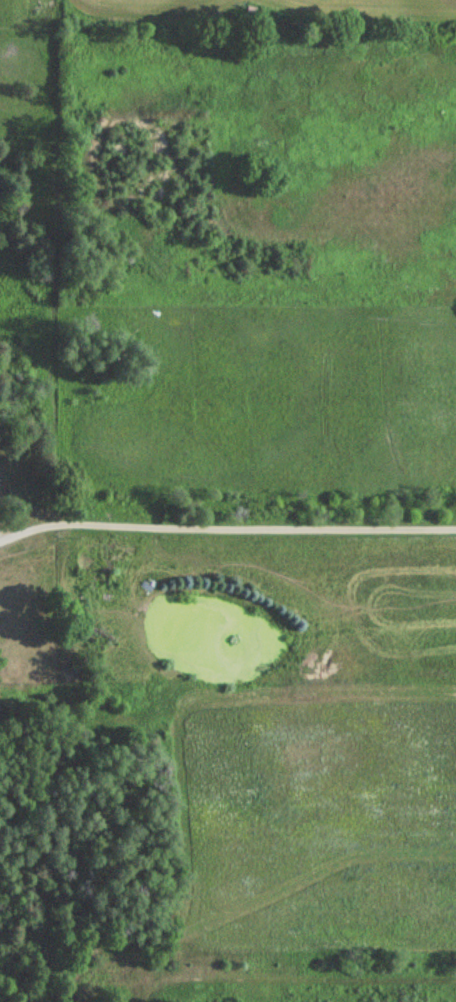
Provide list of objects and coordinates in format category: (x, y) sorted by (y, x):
road: (226, 526)

